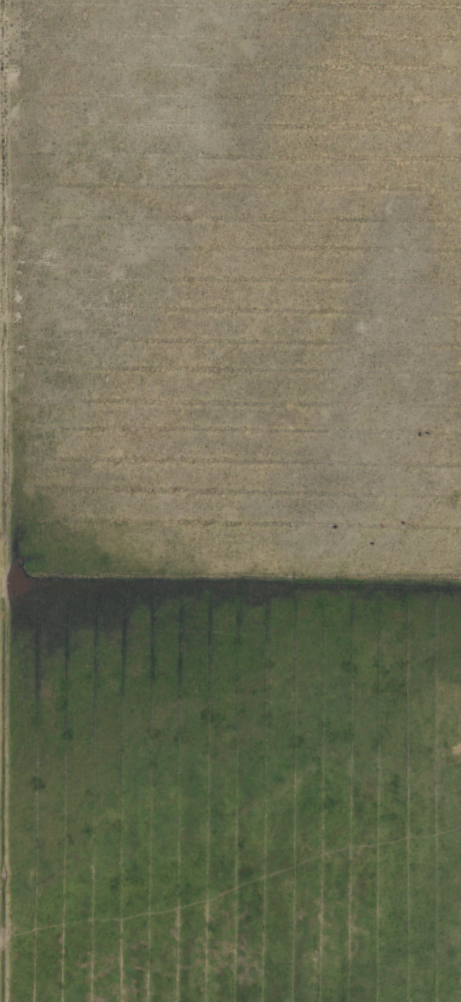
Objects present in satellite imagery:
crop: (230, 293)
crop: (229, 794)

